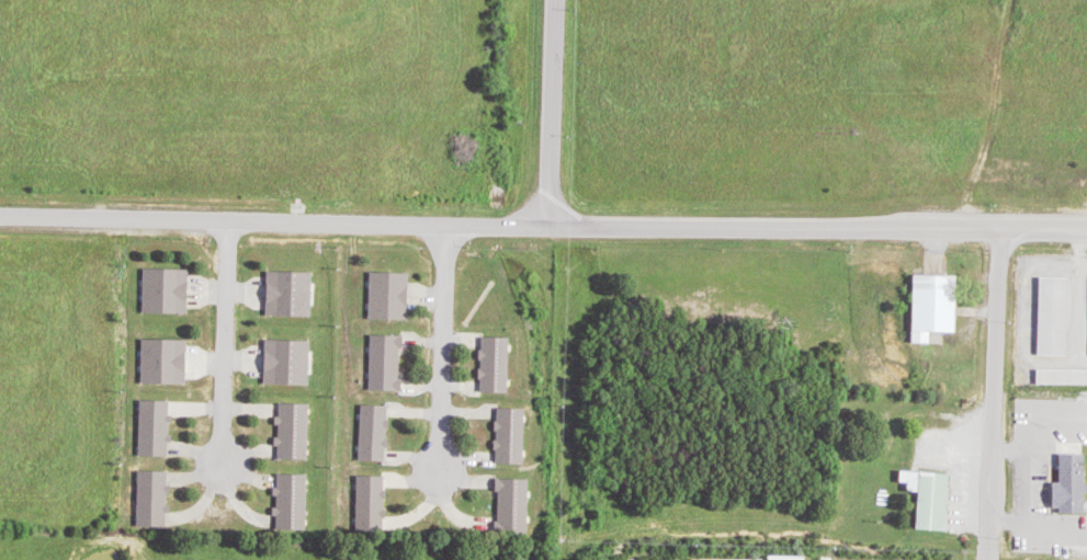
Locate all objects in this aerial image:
road: (556, 114)
road: (543, 228)
building: (171, 290)
building: (290, 295)
building: (394, 296)
building: (1056, 317)
road: (220, 343)
road: (440, 351)
building: (170, 361)
building: (293, 362)
building: (390, 363)
building: (499, 364)
building: (159, 428)
building: (298, 431)
road: (992, 432)
building: (380, 433)
building: (516, 436)
building: (1074, 488)
building: (157, 499)
building: (941, 501)
building: (297, 502)
building: (375, 503)
building: (517, 507)
road: (988, 549)
building: (793, 557)
building: (732, 559)

